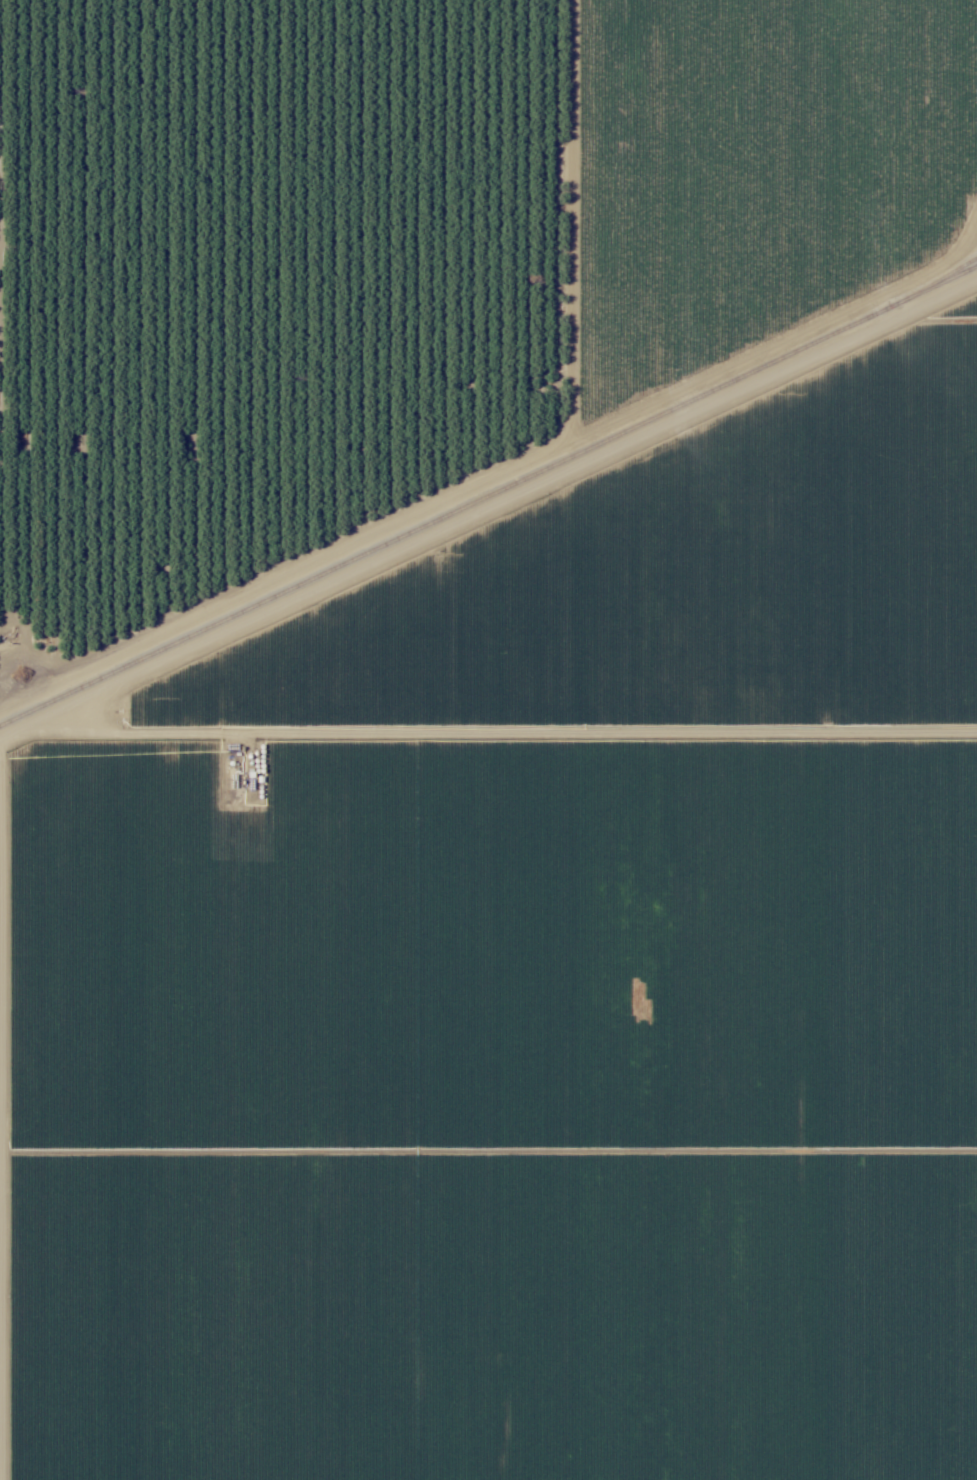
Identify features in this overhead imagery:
crop: (259, 226)
railway: (948, 272)
railway: (488, 493)
crop: (628, 576)
road: (488, 725)
crop: (488, 1101)

